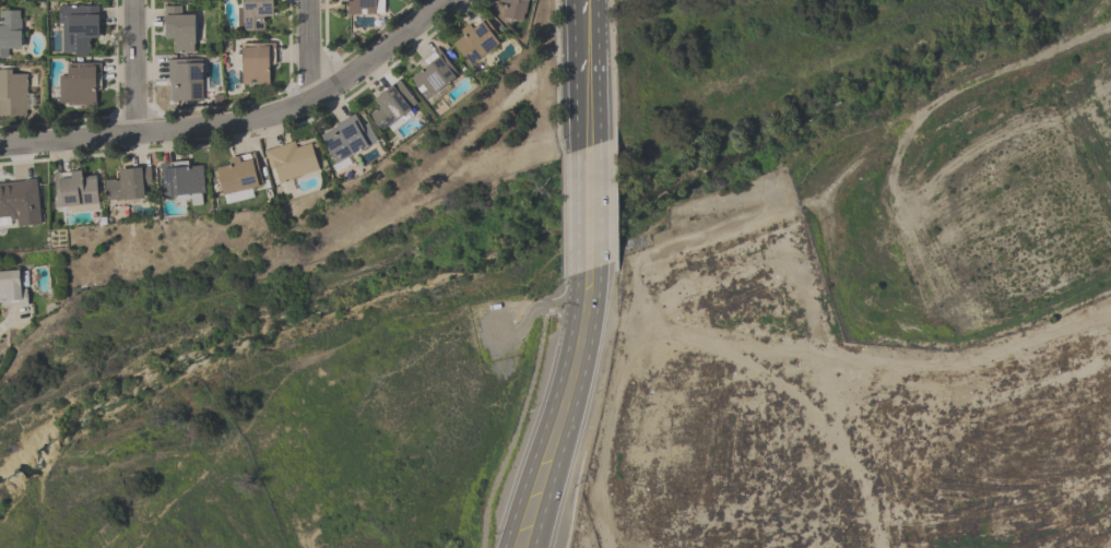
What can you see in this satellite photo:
building: (185, 0)
road: (612, 0)
building: (361, 8)
building: (513, 9)
building: (255, 14)
building: (79, 28)
building: (180, 29)
building: (10, 32)
road: (576, 32)
building: (477, 41)
road: (308, 50)
building: (256, 64)
road: (134, 67)
road: (613, 69)
road: (599, 71)
building: (434, 76)
road: (557, 78)
building: (186, 81)
building: (81, 85)
building: (14, 94)
building: (392, 106)
road: (577, 107)
road: (237, 122)
building: (347, 139)
building: (294, 160)
building: (238, 178)
building: (185, 182)
building: (129, 184)
building: (78, 190)
building: (20, 204)
road: (616, 204)
road: (600, 205)
road: (578, 212)
road: (563, 216)
building: (11, 289)
road: (556, 293)
road: (587, 302)
road: (560, 303)
road: (562, 319)
road: (521, 331)
road: (574, 408)
road: (549, 413)
road: (517, 428)

